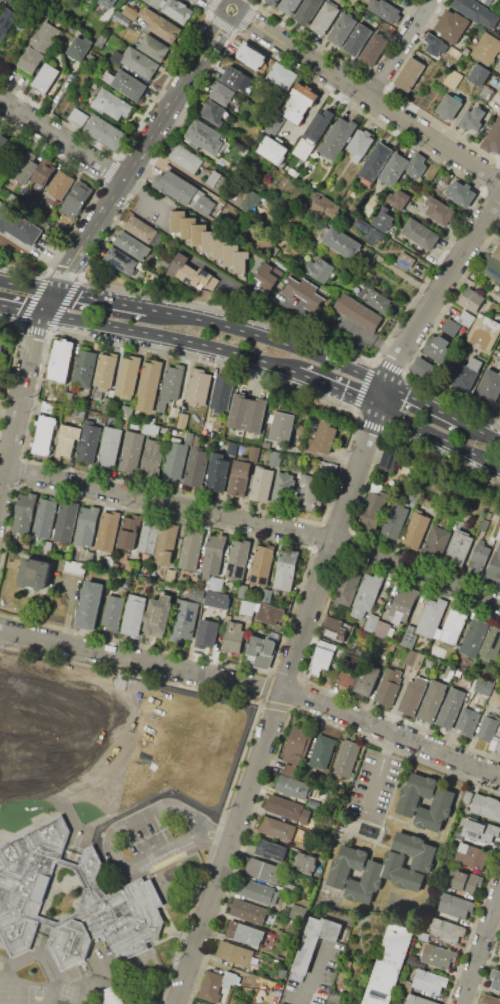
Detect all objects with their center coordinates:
building: (405, 0)
building: (8, 1)
building: (273, 2)
building: (487, 2)
building: (154, 3)
building: (104, 5)
road: (226, 5)
building: (289, 6)
building: (384, 10)
building: (178, 11)
building: (308, 11)
building: (131, 12)
building: (477, 12)
building: (325, 18)
building: (7, 20)
building: (123, 20)
building: (451, 26)
building: (166, 29)
building: (342, 29)
building: (45, 37)
building: (358, 39)
building: (435, 44)
building: (154, 47)
building: (79, 48)
building: (486, 48)
building: (373, 49)
road: (400, 49)
building: (251, 55)
building: (118, 57)
building: (31, 60)
building: (140, 62)
building: (409, 73)
building: (284, 74)
building: (479, 75)
building: (108, 77)
building: (236, 78)
building: (45, 79)
building: (453, 79)
building: (128, 85)
building: (485, 93)
building: (223, 94)
road: (366, 95)
building: (499, 101)
building: (299, 103)
building: (111, 105)
building: (450, 106)
road: (310, 112)
building: (213, 113)
building: (76, 116)
building: (473, 118)
building: (106, 132)
building: (313, 133)
building: (204, 137)
building: (338, 137)
building: (493, 137)
road: (62, 139)
building: (360, 144)
building: (5, 147)
building: (273, 150)
building: (186, 158)
building: (375, 162)
building: (24, 166)
building: (417, 166)
building: (393, 169)
building: (43, 171)
building: (214, 178)
building: (60, 185)
building: (176, 187)
road: (145, 192)
building: (461, 193)
building: (398, 198)
building: (76, 200)
building: (250, 201)
building: (324, 204)
building: (205, 205)
building: (440, 210)
building: (383, 219)
building: (177, 220)
building: (362, 224)
building: (19, 225)
building: (188, 227)
building: (141, 229)
building: (198, 233)
building: (420, 233)
building: (373, 234)
road: (88, 237)
building: (209, 241)
building: (342, 243)
building: (132, 245)
building: (219, 247)
building: (275, 250)
building: (497, 252)
building: (230, 254)
building: (121, 260)
building: (241, 261)
building: (405, 261)
building: (491, 268)
building: (322, 270)
building: (192, 273)
building: (269, 277)
road: (28, 283)
traffic signals: (56, 289)
building: (306, 294)
road: (262, 298)
road: (105, 299)
building: (471, 299)
building: (376, 300)
road: (22, 310)
building: (359, 312)
traffic signals: (44, 315)
building: (466, 318)
building: (451, 326)
road: (364, 332)
building: (485, 334)
road: (273, 337)
road: (176, 340)
building: (1, 347)
building: (439, 347)
building: (60, 360)
building: (422, 367)
building: (83, 369)
building: (105, 373)
building: (466, 375)
building: (127, 378)
building: (171, 385)
building: (488, 385)
building: (148, 387)
building: (198, 388)
road: (342, 390)
building: (221, 394)
building: (50, 398)
road: (423, 399)
building: (107, 404)
building: (48, 407)
building: (126, 411)
building: (81, 412)
building: (246, 413)
building: (102, 419)
building: (182, 421)
road: (480, 427)
building: (283, 428)
building: (151, 429)
road: (7, 433)
building: (43, 435)
road: (439, 437)
building: (67, 441)
building: (89, 441)
building: (323, 441)
building: (266, 444)
building: (110, 447)
building: (232, 447)
building: (251, 452)
building: (131, 453)
building: (275, 458)
building: (153, 459)
building: (174, 461)
building: (388, 462)
building: (196, 465)
building: (217, 473)
building: (240, 478)
building: (262, 483)
building: (284, 489)
building: (309, 493)
building: (373, 509)
building: (24, 513)
building: (44, 518)
road: (258, 521)
building: (66, 522)
building: (395, 522)
building: (484, 525)
building: (87, 526)
building: (108, 532)
building: (130, 532)
building: (416, 532)
building: (149, 535)
building: (167, 543)
building: (437, 543)
building: (48, 547)
building: (459, 548)
building: (191, 549)
building: (214, 555)
building: (90, 557)
building: (239, 559)
building: (479, 559)
building: (109, 562)
building: (262, 564)
building: (495, 566)
building: (75, 567)
building: (286, 569)
building: (34, 572)
building: (171, 575)
building: (348, 582)
building: (217, 584)
road: (317, 590)
building: (198, 595)
building: (266, 595)
building: (366, 596)
building: (220, 599)
road: (71, 601)
building: (90, 604)
building: (403, 604)
building: (247, 607)
building: (113, 612)
building: (271, 614)
building: (134, 615)
building: (159, 616)
building: (431, 618)
building: (185, 621)
building: (371, 622)
building: (339, 625)
building: (453, 627)
building: (382, 629)
building: (206, 633)
building: (335, 635)
building: (474, 636)
building: (234, 637)
building: (491, 644)
building: (262, 650)
building: (437, 652)
building: (322, 657)
building: (410, 657)
building: (418, 660)
building: (349, 672)
building: (449, 673)
building: (367, 679)
building: (461, 682)
road: (256, 684)
building: (485, 685)
building: (389, 686)
building: (412, 695)
building: (496, 697)
building: (432, 701)
building: (451, 707)
building: (468, 721)
building: (488, 728)
building: (499, 728)
building: (493, 742)
building: (297, 744)
building: (498, 746)
building: (322, 751)
building: (347, 758)
park: (40, 763)
building: (291, 770)
road: (376, 775)
building: (422, 785)
building: (293, 787)
building: (467, 797)
building: (443, 801)
building: (313, 803)
building: (409, 803)
building: (486, 806)
building: (284, 807)
building: (305, 816)
building: (428, 818)
building: (277, 828)
building: (480, 830)
road: (217, 834)
building: (407, 843)
road: (109, 849)
building: (271, 850)
building: (471, 855)
building: (353, 857)
building: (424, 857)
building: (306, 863)
building: (393, 864)
building: (263, 870)
building: (338, 874)
building: (373, 874)
building: (410, 879)
building: (28, 880)
building: (467, 881)
building: (258, 891)
building: (360, 891)
building: (455, 906)
building: (431, 910)
building: (249, 911)
building: (109, 916)
building: (445, 930)
building: (245, 933)
building: (422, 935)
building: (313, 943)
building: (499, 950)
building: (234, 953)
road: (481, 953)
building: (438, 956)
building: (413, 960)
building: (499, 960)
building: (389, 964)
road: (309, 971)
building: (228, 979)
building: (495, 979)
building: (429, 981)
building: (404, 985)
building: (211, 986)
building: (111, 995)
building: (318, 998)
building: (419, 999)
building: (490, 999)
building: (200, 1003)
building: (279, 1003)
building: (330, 1003)

